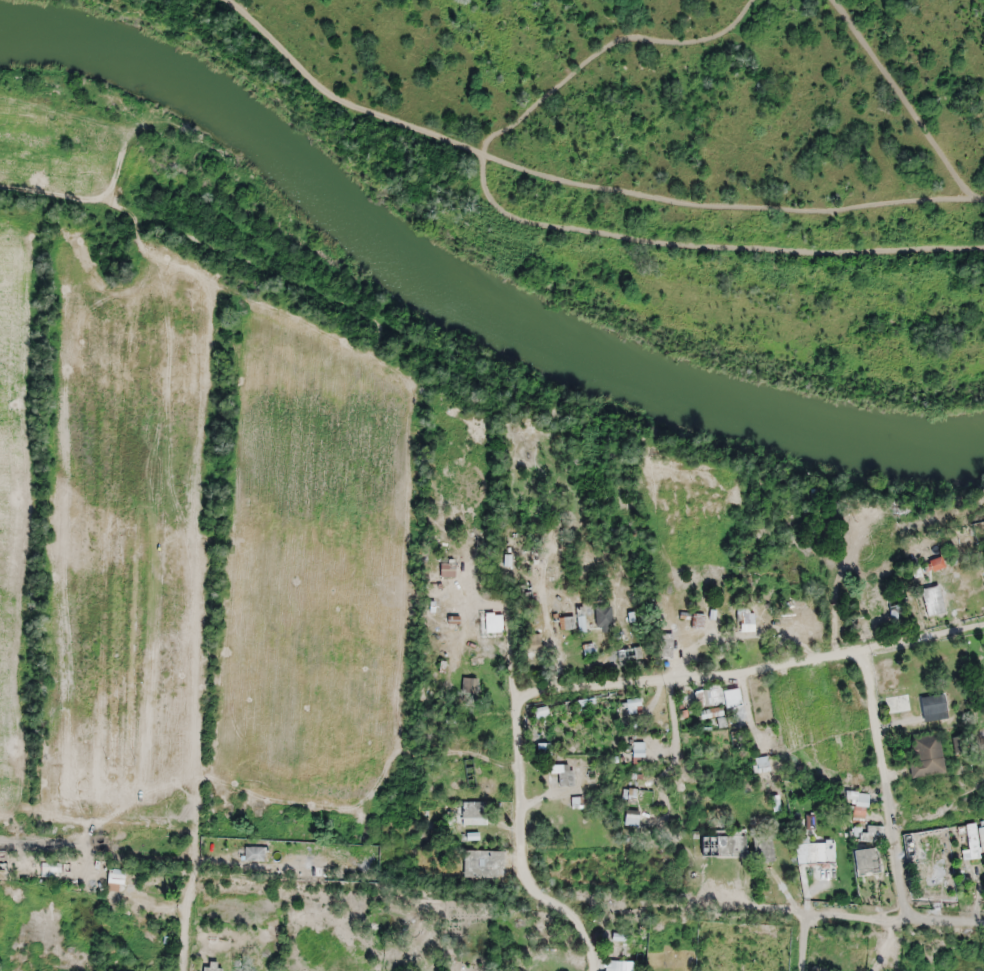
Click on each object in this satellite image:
river: (466, 293)
road: (751, 670)
road: (890, 817)
road: (521, 849)

